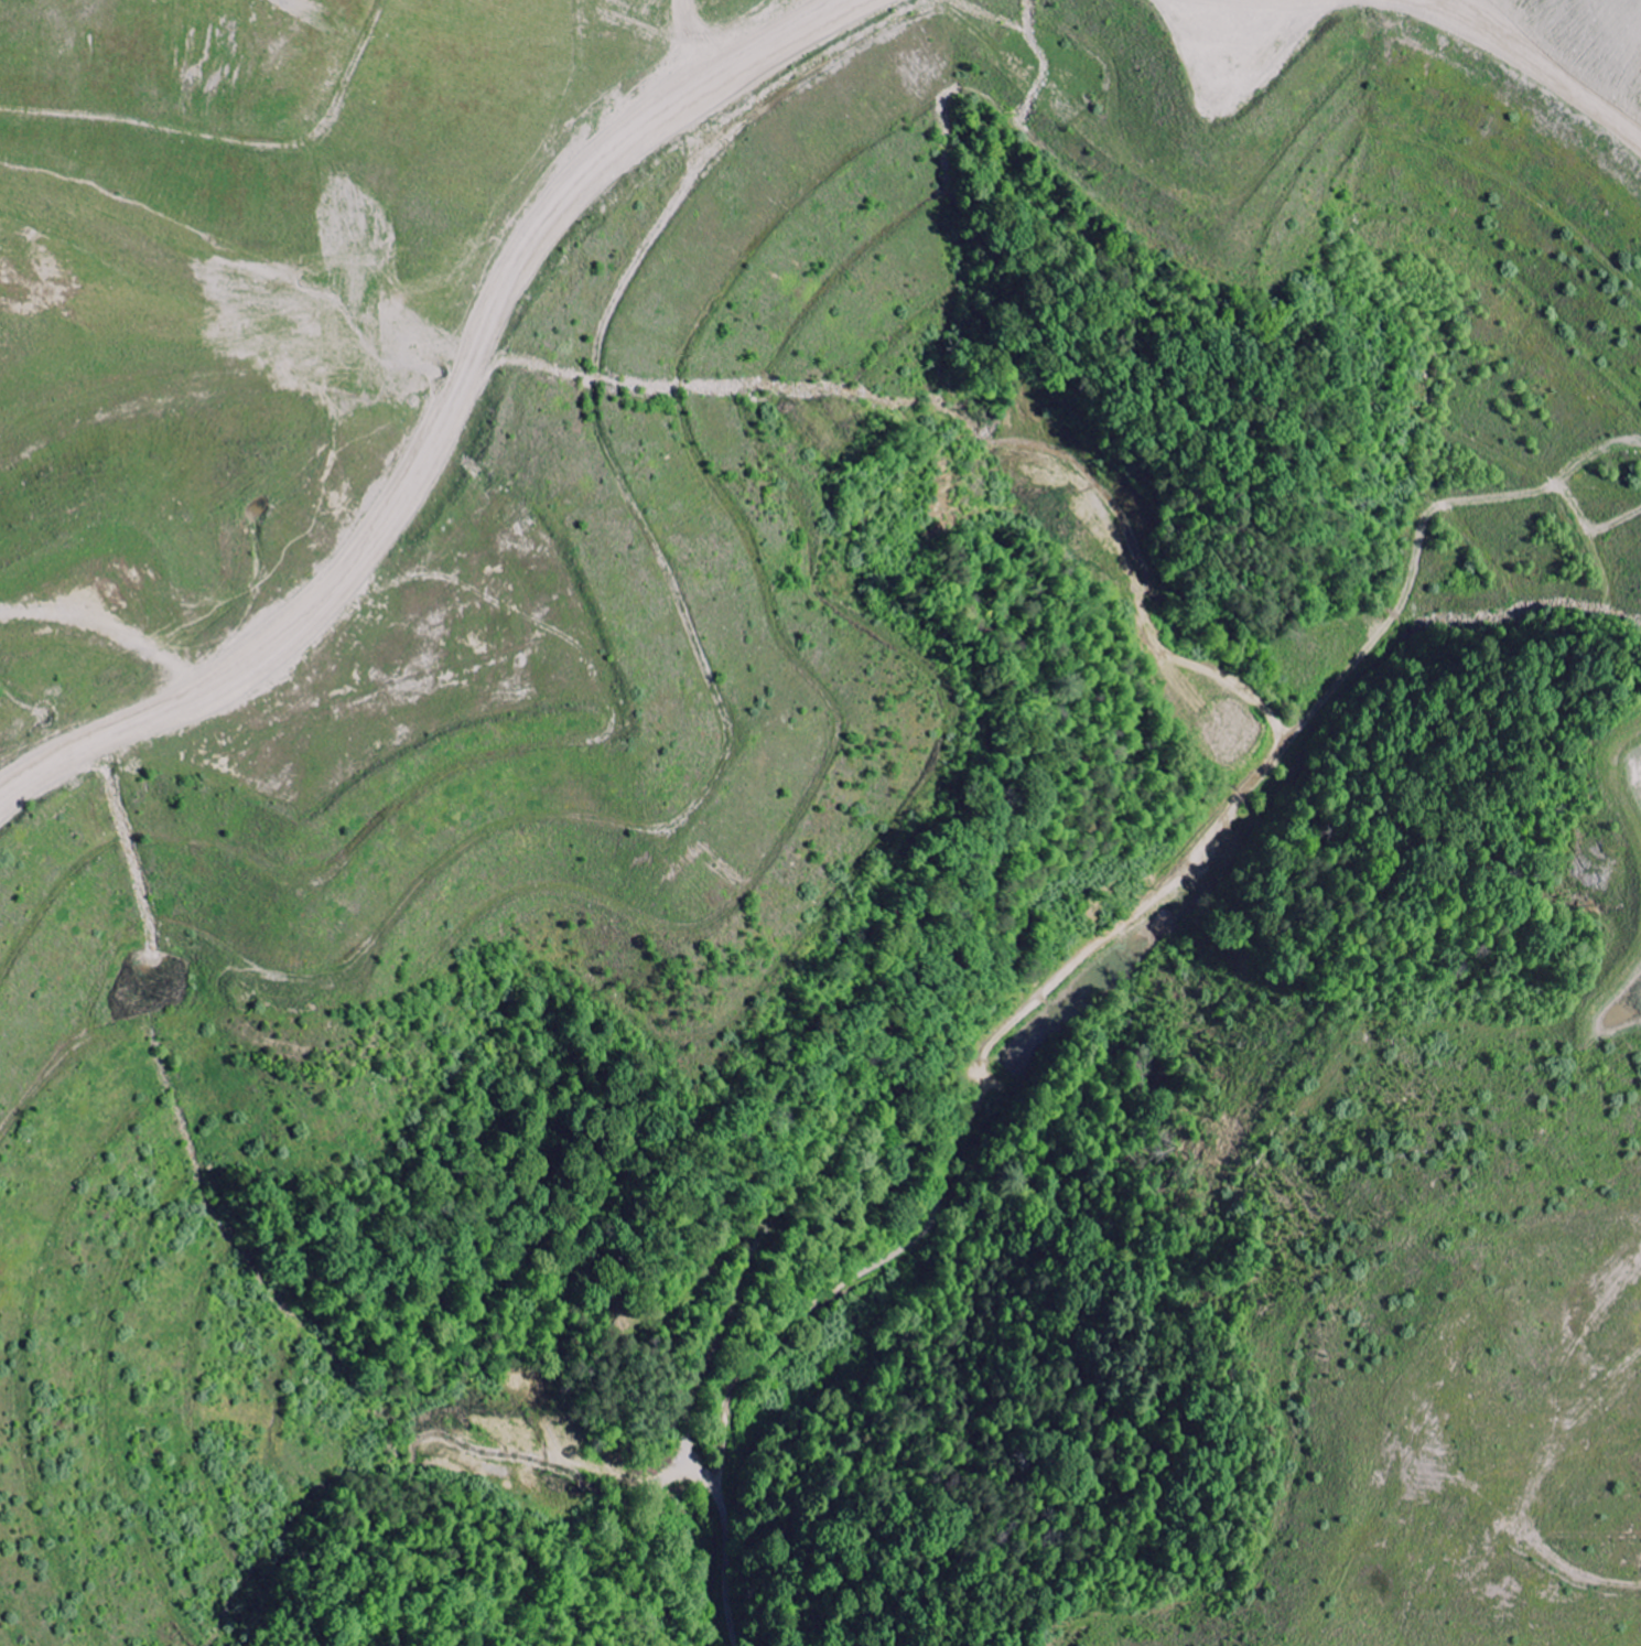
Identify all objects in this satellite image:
road: (1250, 819)
quarry: (820, 822)
road: (910, 1247)

